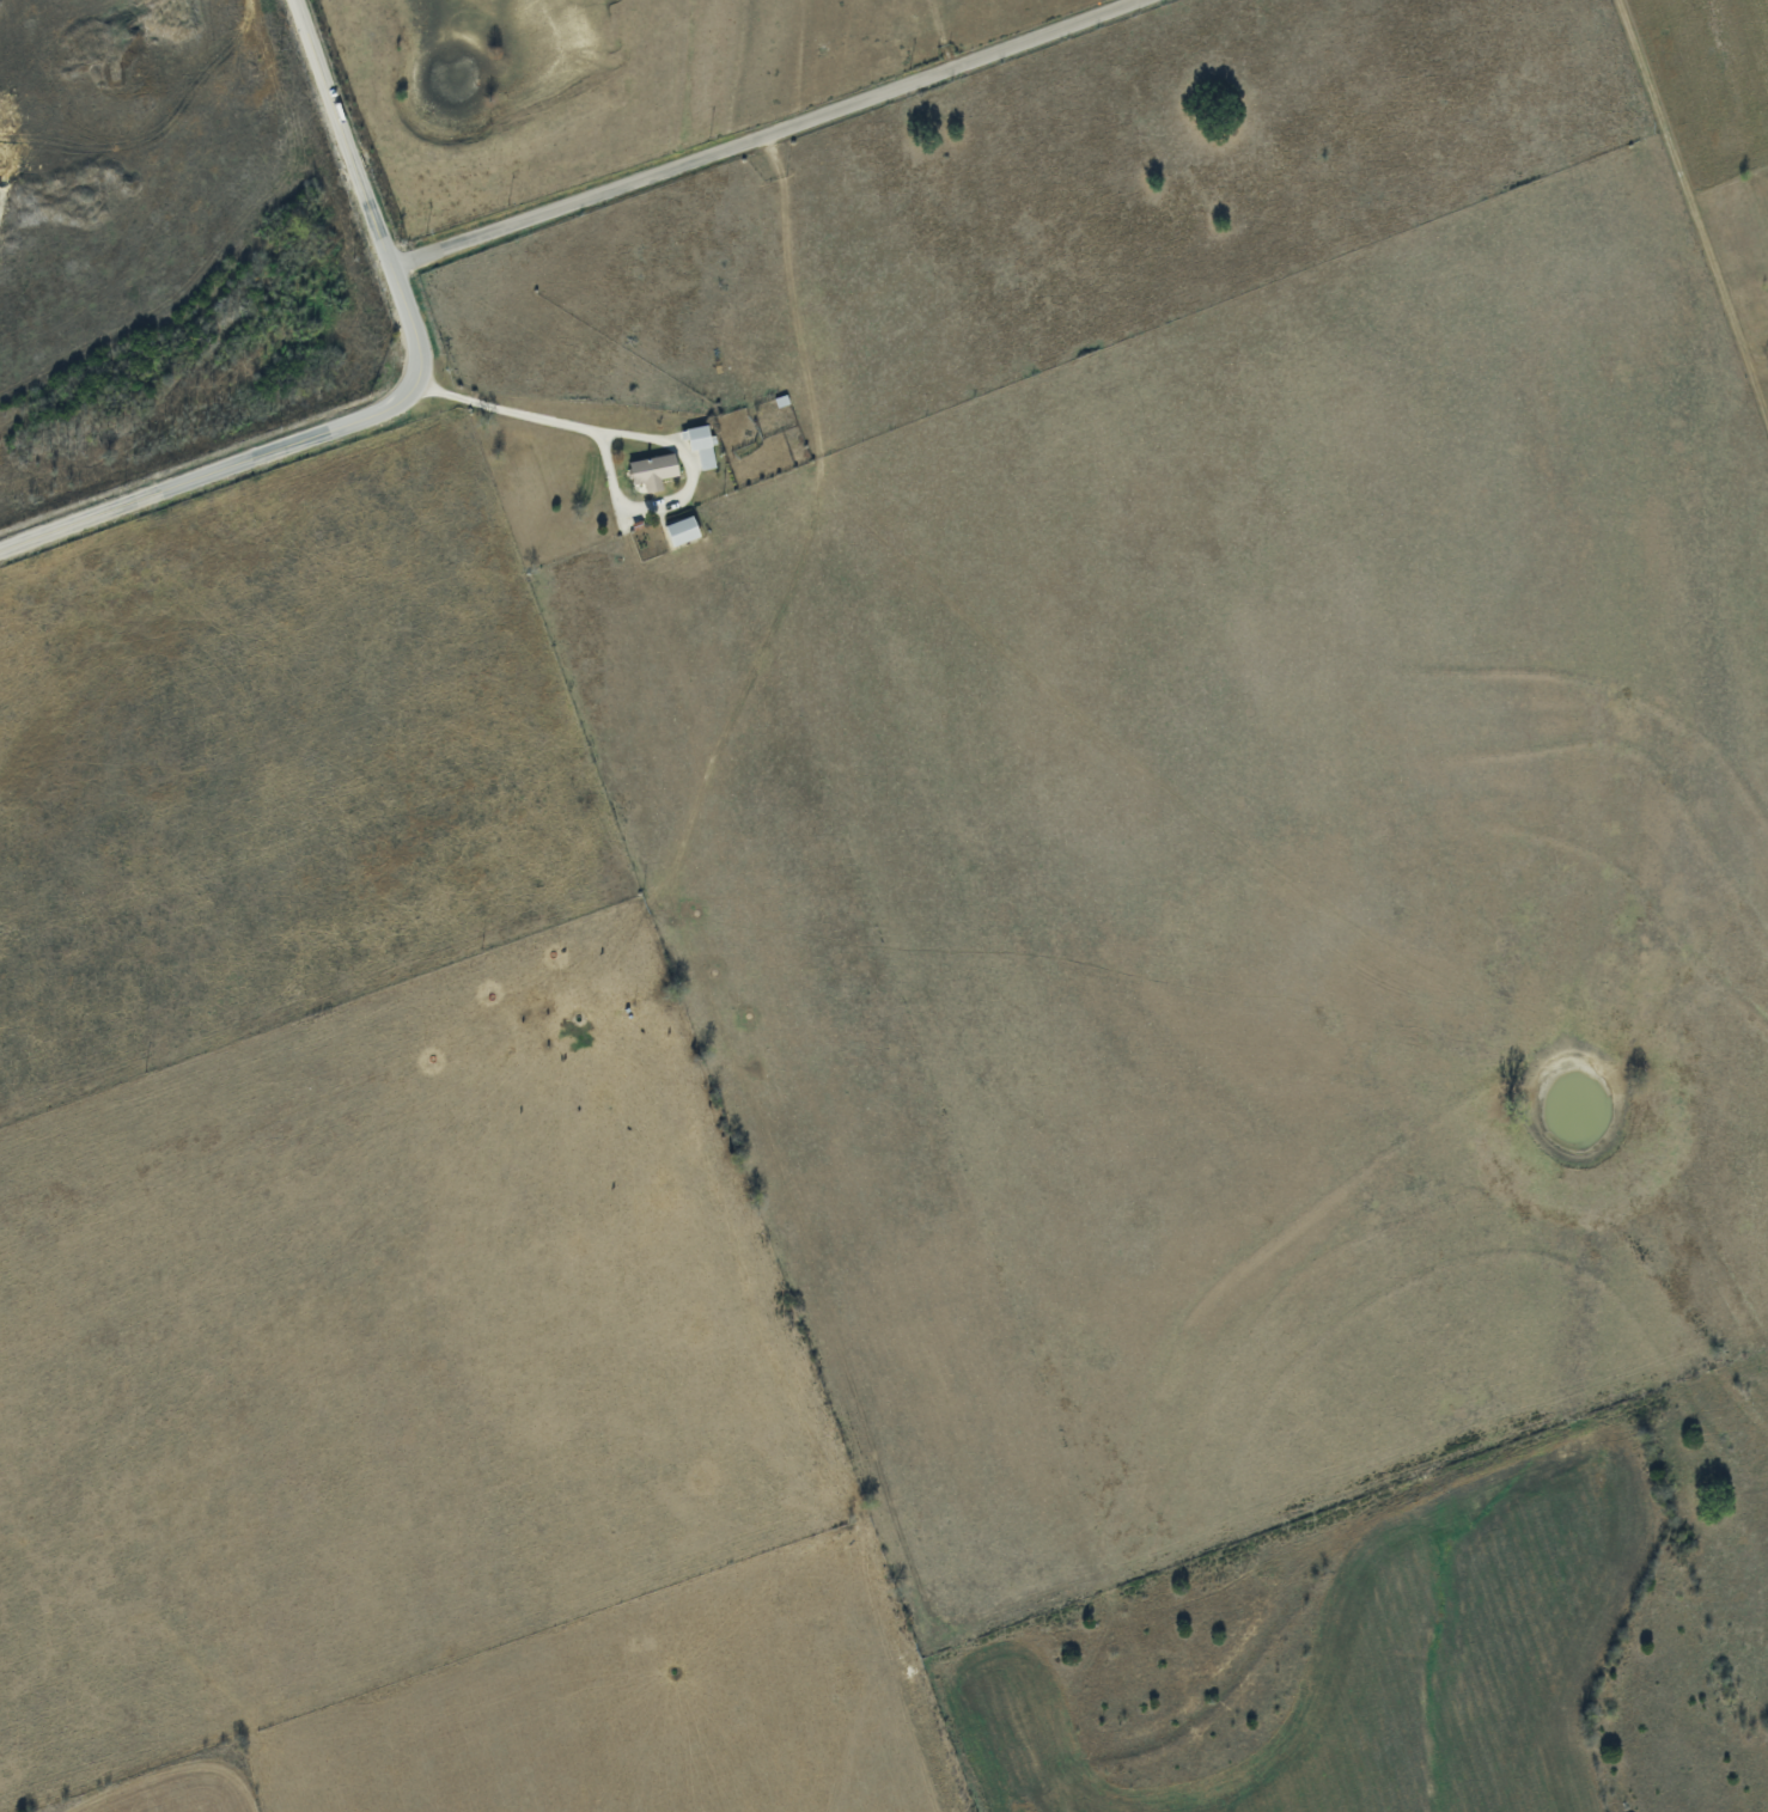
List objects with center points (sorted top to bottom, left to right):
road: (764, 134)
road: (1684, 185)
road: (398, 399)
road: (642, 435)
building: (701, 445)
building: (653, 470)
building: (683, 530)

